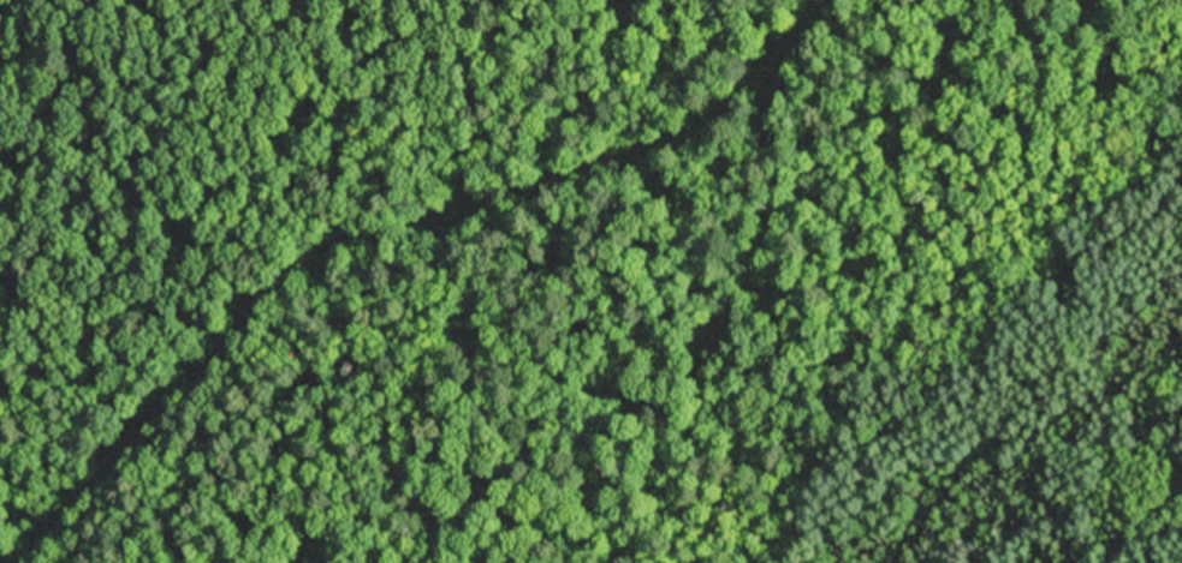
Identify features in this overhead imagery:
road: (374, 212)

